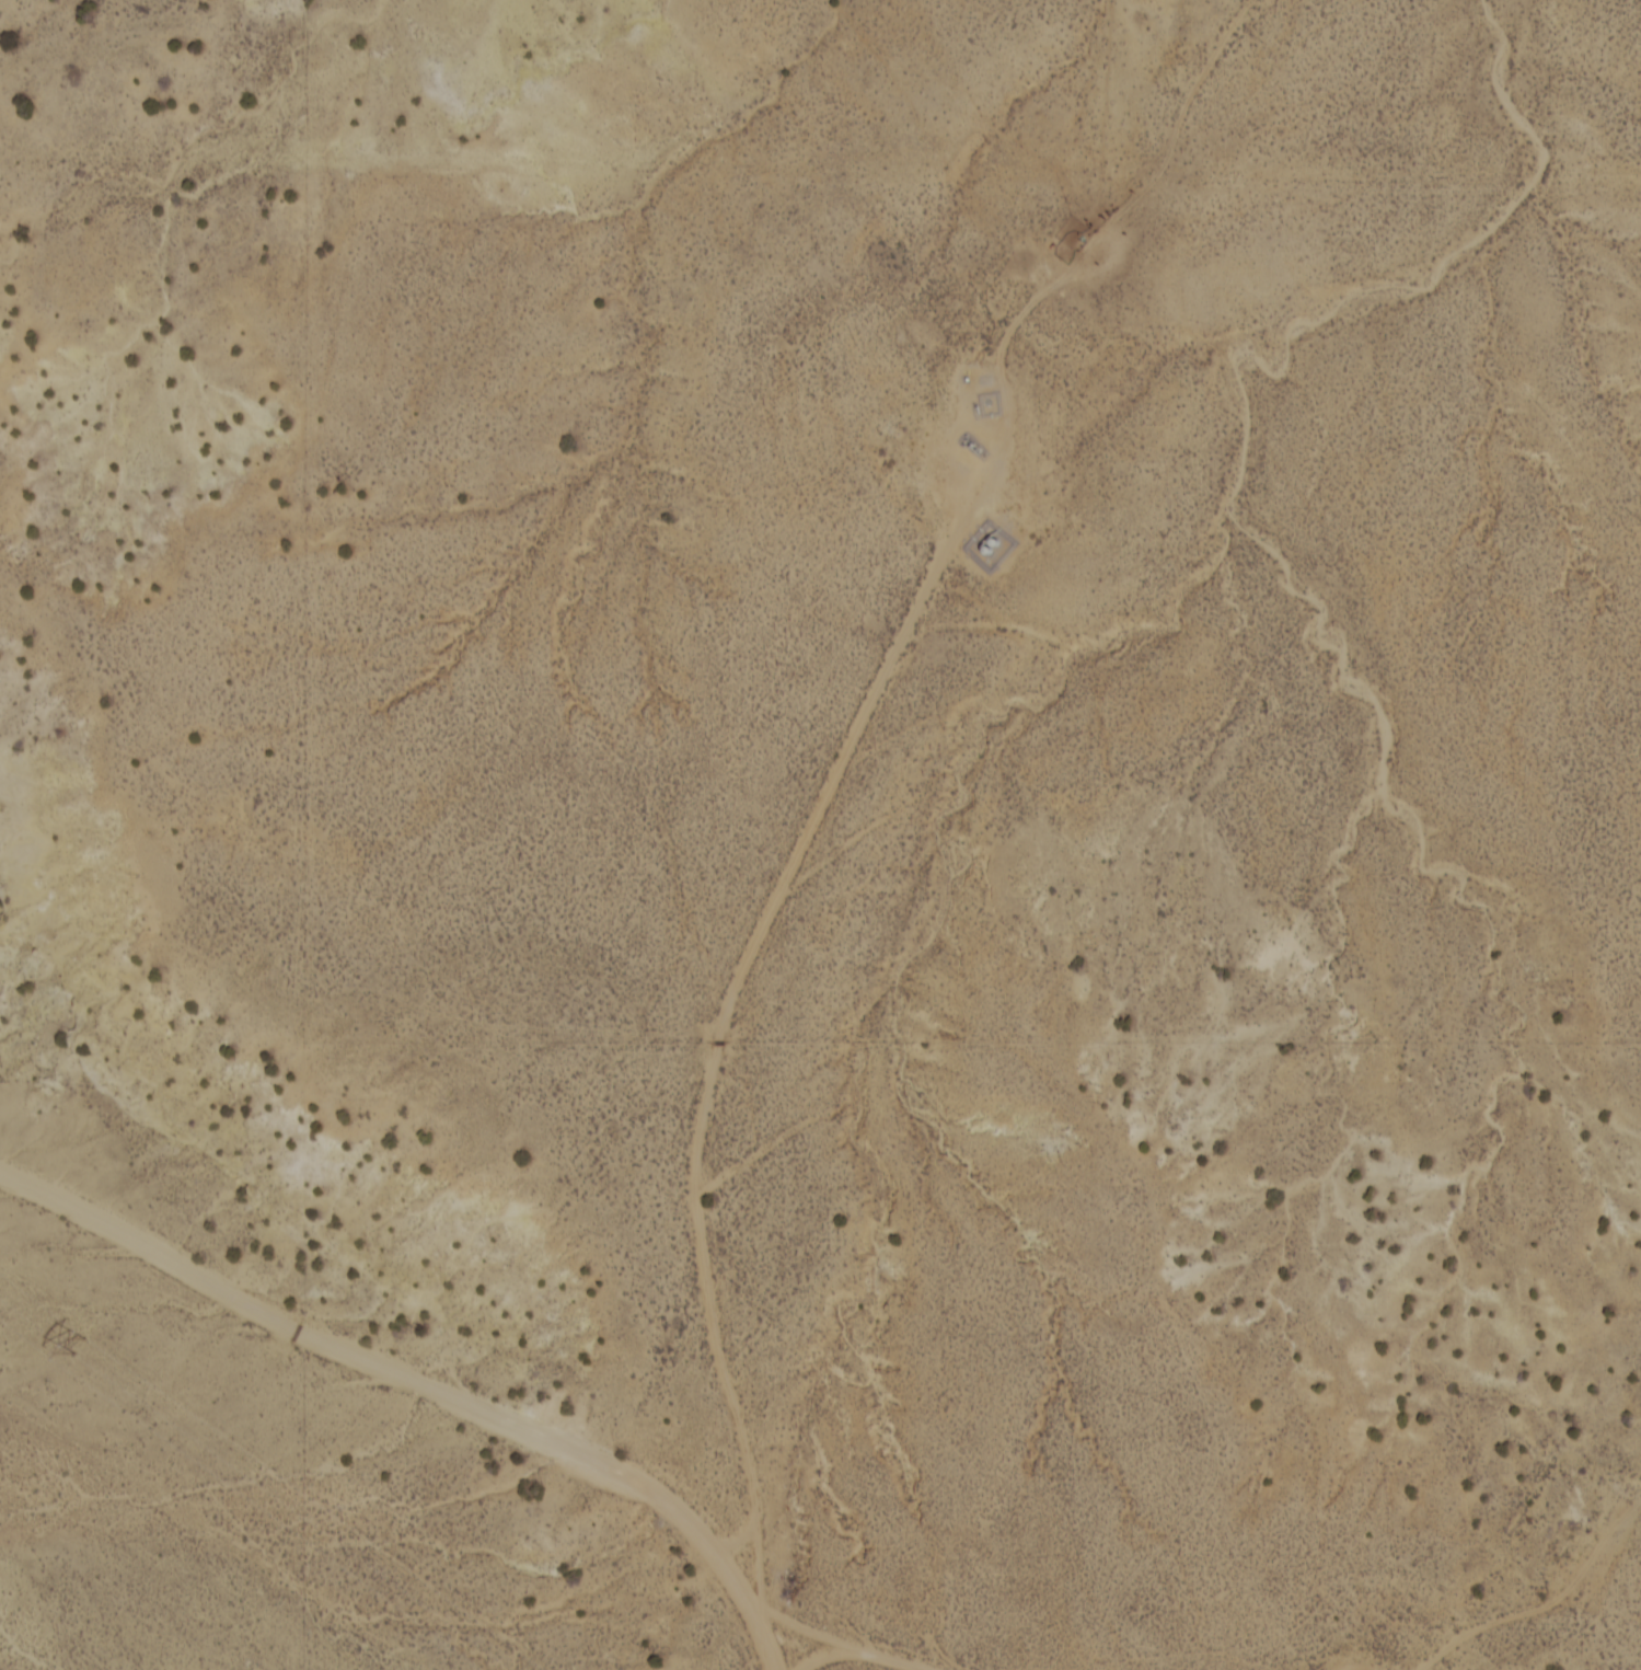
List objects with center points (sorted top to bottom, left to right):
power tower: (76, 1348)
road: (424, 1383)

